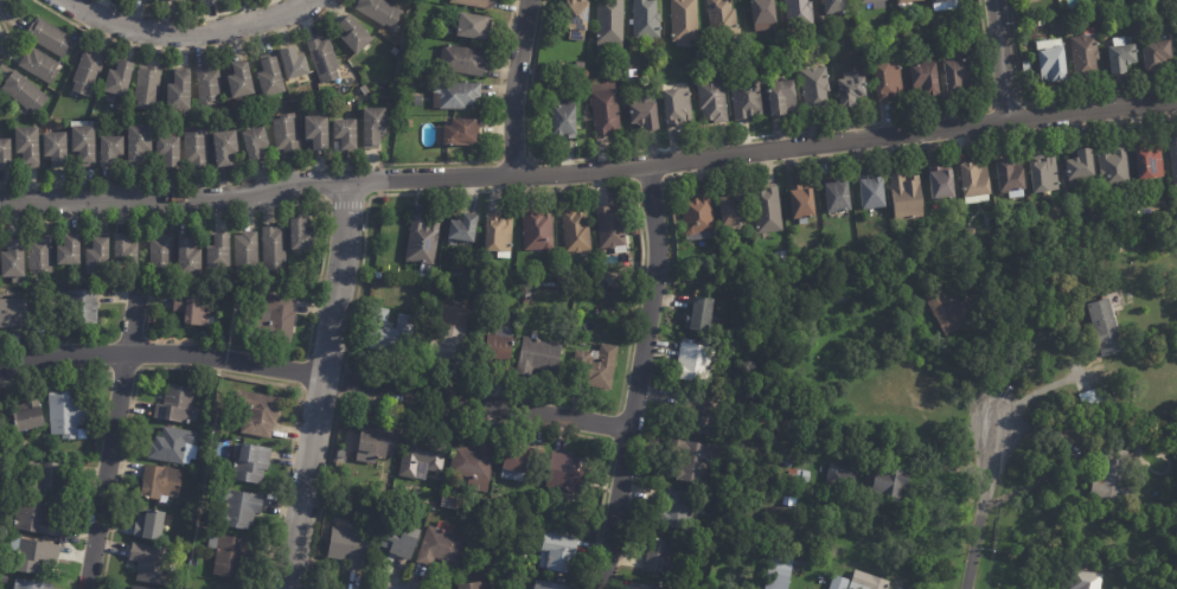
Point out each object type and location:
building: (173, 0)
building: (206, 0)
building: (871, 1)
building: (908, 1)
building: (945, 1)
building: (475, 4)
building: (836, 7)
building: (379, 12)
building: (1064, 12)
building: (800, 14)
building: (761, 15)
building: (570, 18)
building: (716, 18)
building: (639, 19)
building: (625, 20)
building: (677, 20)
building: (603, 25)
building: (473, 28)
road: (190, 33)
building: (1106, 33)
building: (1176, 34)
building: (353, 36)
building: (47, 38)
building: (945, 38)
building: (1157, 53)
building: (714, 55)
building: (1087, 55)
building: (701, 56)
building: (798, 57)
building: (1121, 57)
building: (318, 58)
building: (929, 58)
road: (999, 58)
building: (1051, 59)
building: (288, 62)
building: (462, 62)
building: (1028, 64)
building: (580, 65)
building: (39, 66)
building: (957, 72)
building: (88, 73)
building: (539, 75)
building: (626, 75)
building: (264, 77)
building: (119, 78)
building: (235, 78)
building: (730, 78)
building: (926, 81)
building: (888, 82)
building: (209, 85)
road: (512, 87)
building: (147, 89)
building: (815, 89)
building: (179, 91)
building: (852, 92)
building: (24, 94)
building: (453, 95)
building: (748, 100)
building: (562, 101)
building: (781, 101)
building: (418, 102)
building: (714, 102)
building: (678, 109)
building: (606, 111)
building: (646, 117)
building: (564, 123)
building: (369, 124)
building: (311, 132)
building: (455, 132)
building: (339, 133)
building: (286, 134)
building: (255, 143)
building: (83, 146)
building: (27, 147)
building: (139, 147)
building: (196, 149)
building: (225, 149)
building: (55, 151)
building: (110, 152)
building: (168, 154)
building: (5, 156)
building: (1173, 156)
building: (1149, 161)
building: (1080, 165)
building: (1115, 167)
road: (589, 171)
building: (1044, 175)
building: (1011, 177)
building: (975, 181)
building: (941, 183)
building: (871, 191)
building: (838, 196)
building: (907, 196)
building: (804, 203)
building: (731, 209)
building: (768, 210)
building: (698, 215)
building: (637, 226)
building: (463, 228)
building: (614, 229)
building: (538, 230)
building: (498, 231)
building: (576, 231)
building: (300, 237)
building: (423, 241)
building: (1157, 247)
building: (273, 250)
building: (69, 251)
building: (124, 251)
building: (245, 252)
building: (161, 255)
building: (218, 255)
building: (40, 256)
building: (97, 257)
building: (188, 258)
building: (1104, 258)
building: (13, 263)
building: (456, 273)
building: (427, 274)
building: (378, 275)
building: (380, 294)
building: (1130, 295)
building: (954, 305)
building: (82, 308)
building: (192, 310)
building: (705, 314)
building: (13, 315)
building: (1151, 316)
building: (412, 319)
building: (274, 320)
building: (379, 321)
building: (1107, 326)
building: (52, 329)
building: (446, 345)
building: (500, 345)
building: (538, 356)
building: (695, 361)
building: (595, 366)
road: (313, 374)
road: (635, 377)
road: (318, 384)
building: (1120, 388)
road: (1041, 389)
building: (1111, 390)
building: (1089, 398)
building: (1137, 402)
building: (175, 404)
building: (66, 412)
building: (258, 412)
building: (27, 414)
building: (706, 414)
road: (110, 437)
building: (378, 440)
building: (174, 446)
building: (15, 450)
building: (341, 454)
building: (422, 455)
building: (695, 460)
building: (788, 461)
building: (250, 462)
building: (519, 463)
building: (474, 465)
building: (198, 466)
building: (1108, 472)
building: (800, 474)
building: (209, 475)
building: (567, 475)
building: (47, 478)
building: (842, 478)
building: (888, 480)
building: (160, 481)
building: (448, 482)
building: (205, 486)
building: (0, 491)
building: (448, 502)
road: (978, 505)
building: (383, 507)
building: (676, 508)
building: (238, 510)
building: (191, 517)
building: (37, 519)
building: (149, 525)
building: (7, 526)
building: (525, 530)
building: (399, 539)
building: (441, 545)
building: (348, 546)
building: (558, 552)
building: (33, 555)
building: (229, 555)
building: (520, 557)
building: (661, 557)
building: (152, 563)
building: (4, 569)
building: (800, 569)
building: (780, 571)
building: (1086, 581)
building: (869, 582)
building: (839, 583)
building: (30, 584)
building: (552, 584)
building: (179, 585)
building: (475, 585)
building: (651, 587)
building: (137, 588)
building: (222, 588)
building: (231, 588)

